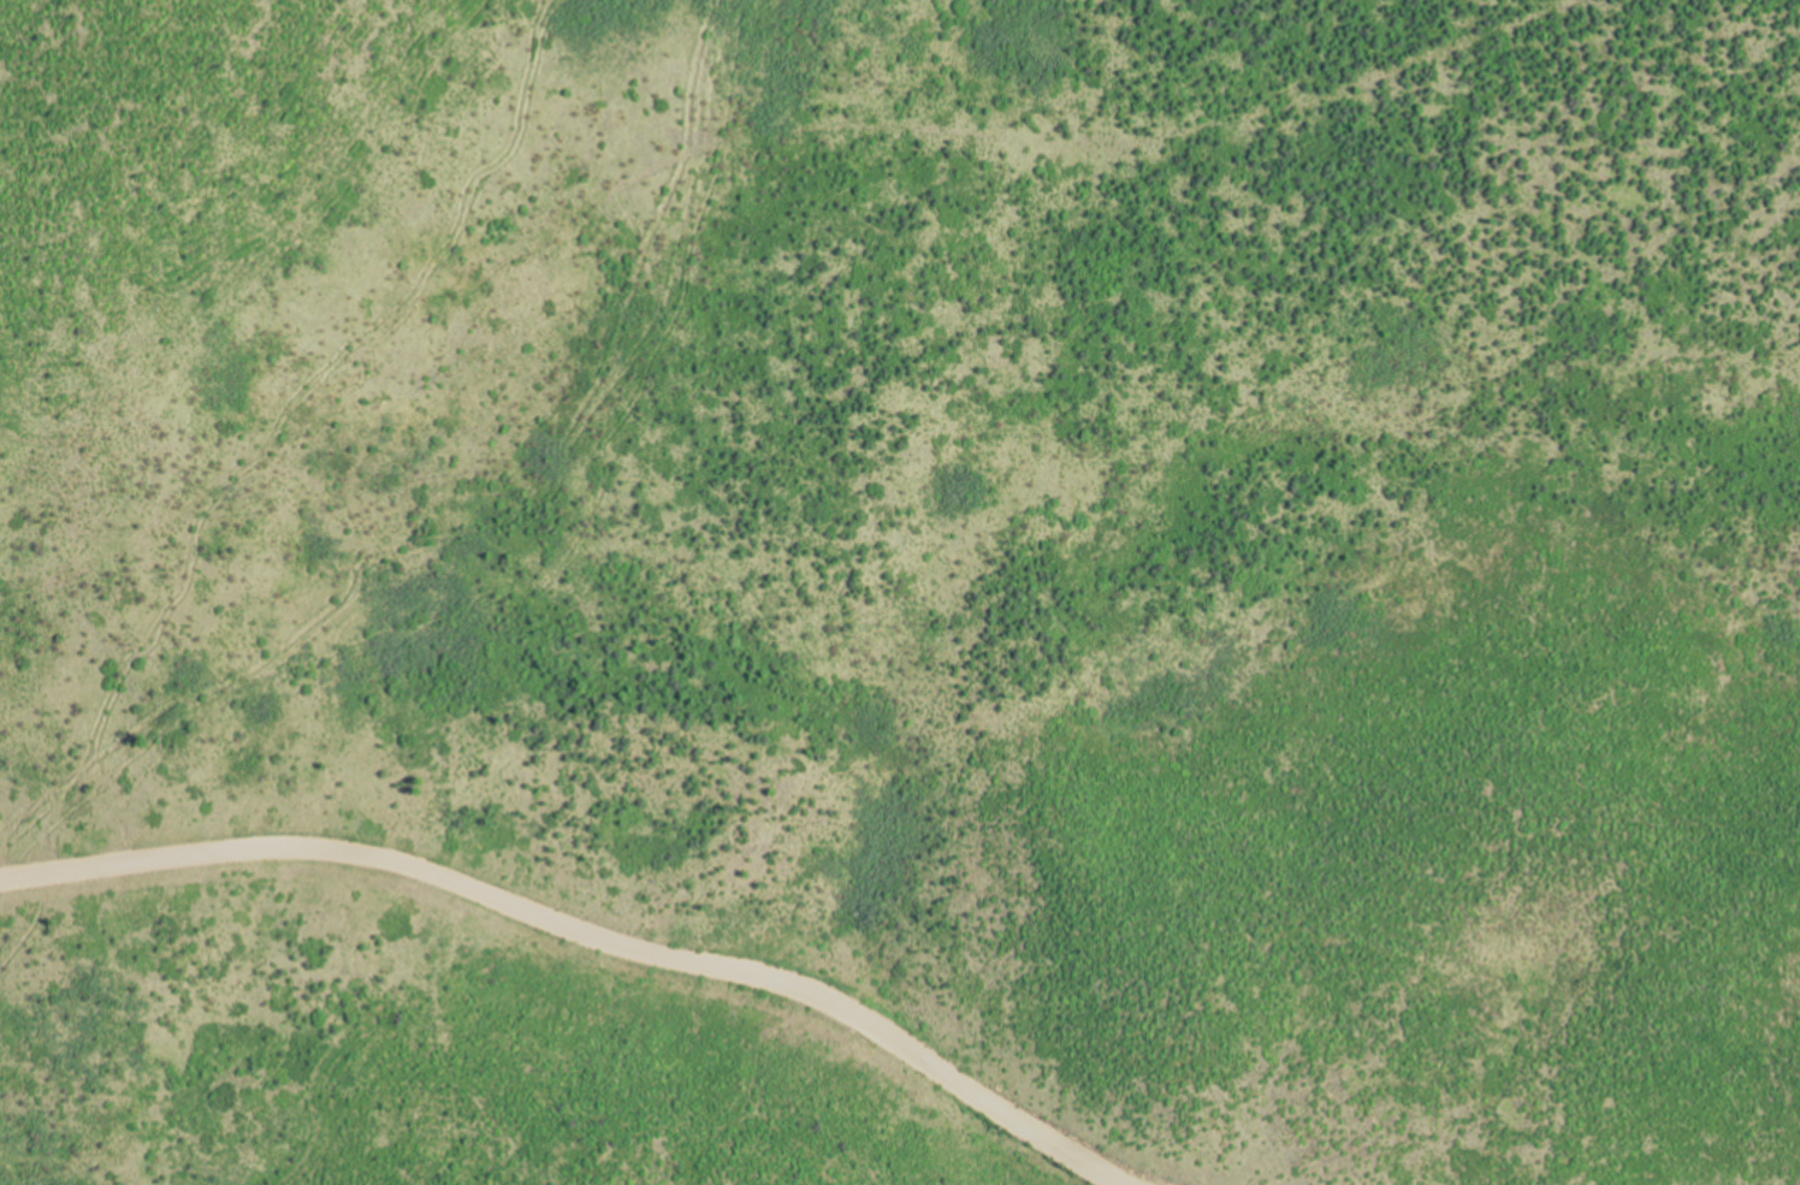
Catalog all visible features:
road: (614, 937)

